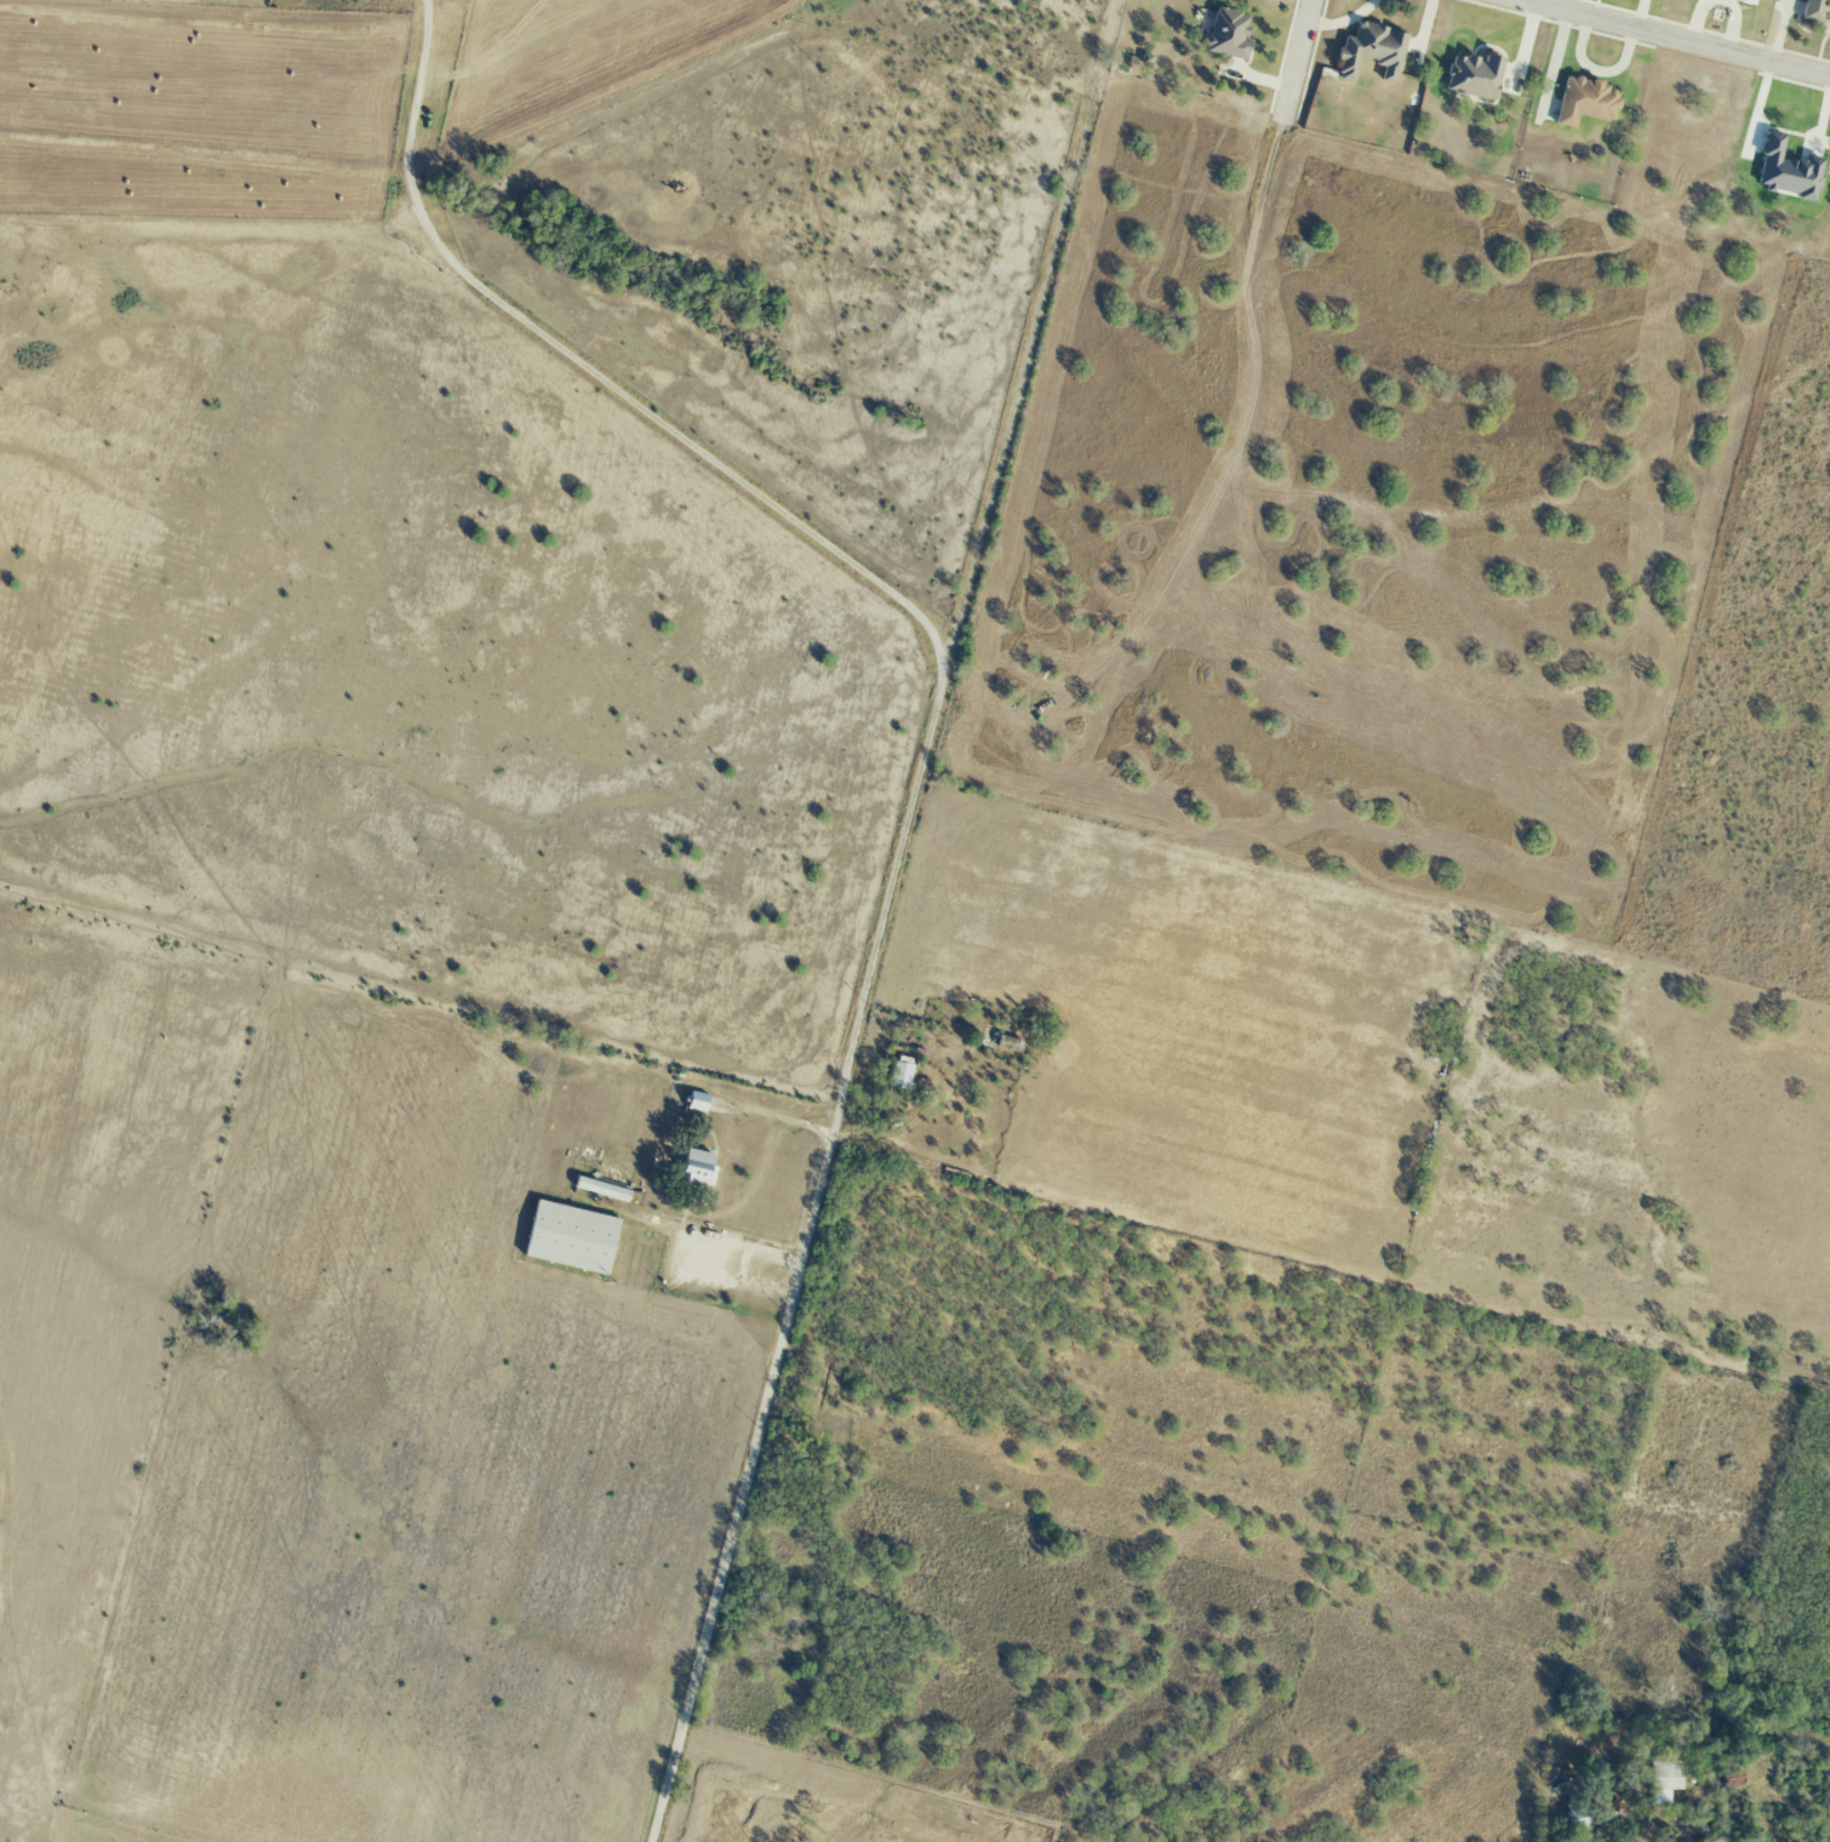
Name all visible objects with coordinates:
building: (1745, 1)
building: (1814, 10)
building: (1229, 34)
road: (1677, 39)
building: (1372, 51)
road: (1296, 63)
building: (1474, 76)
building: (1586, 102)
building: (1786, 171)
road: (913, 808)
building: (900, 1076)
building: (698, 1168)
building: (571, 1237)
building: (1664, 1780)

